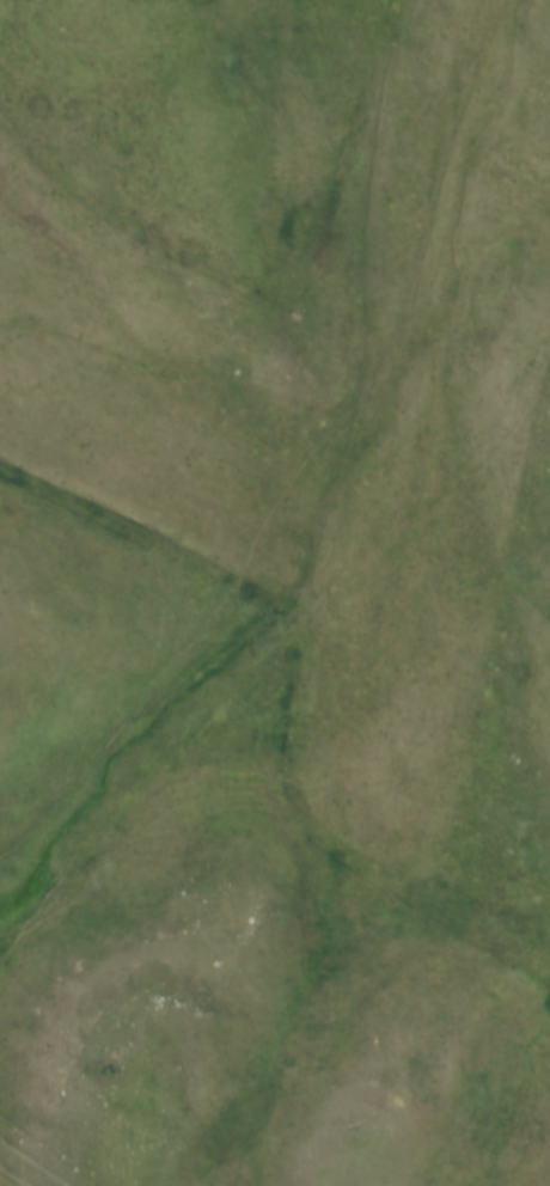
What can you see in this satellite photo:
road: (383, 74)

